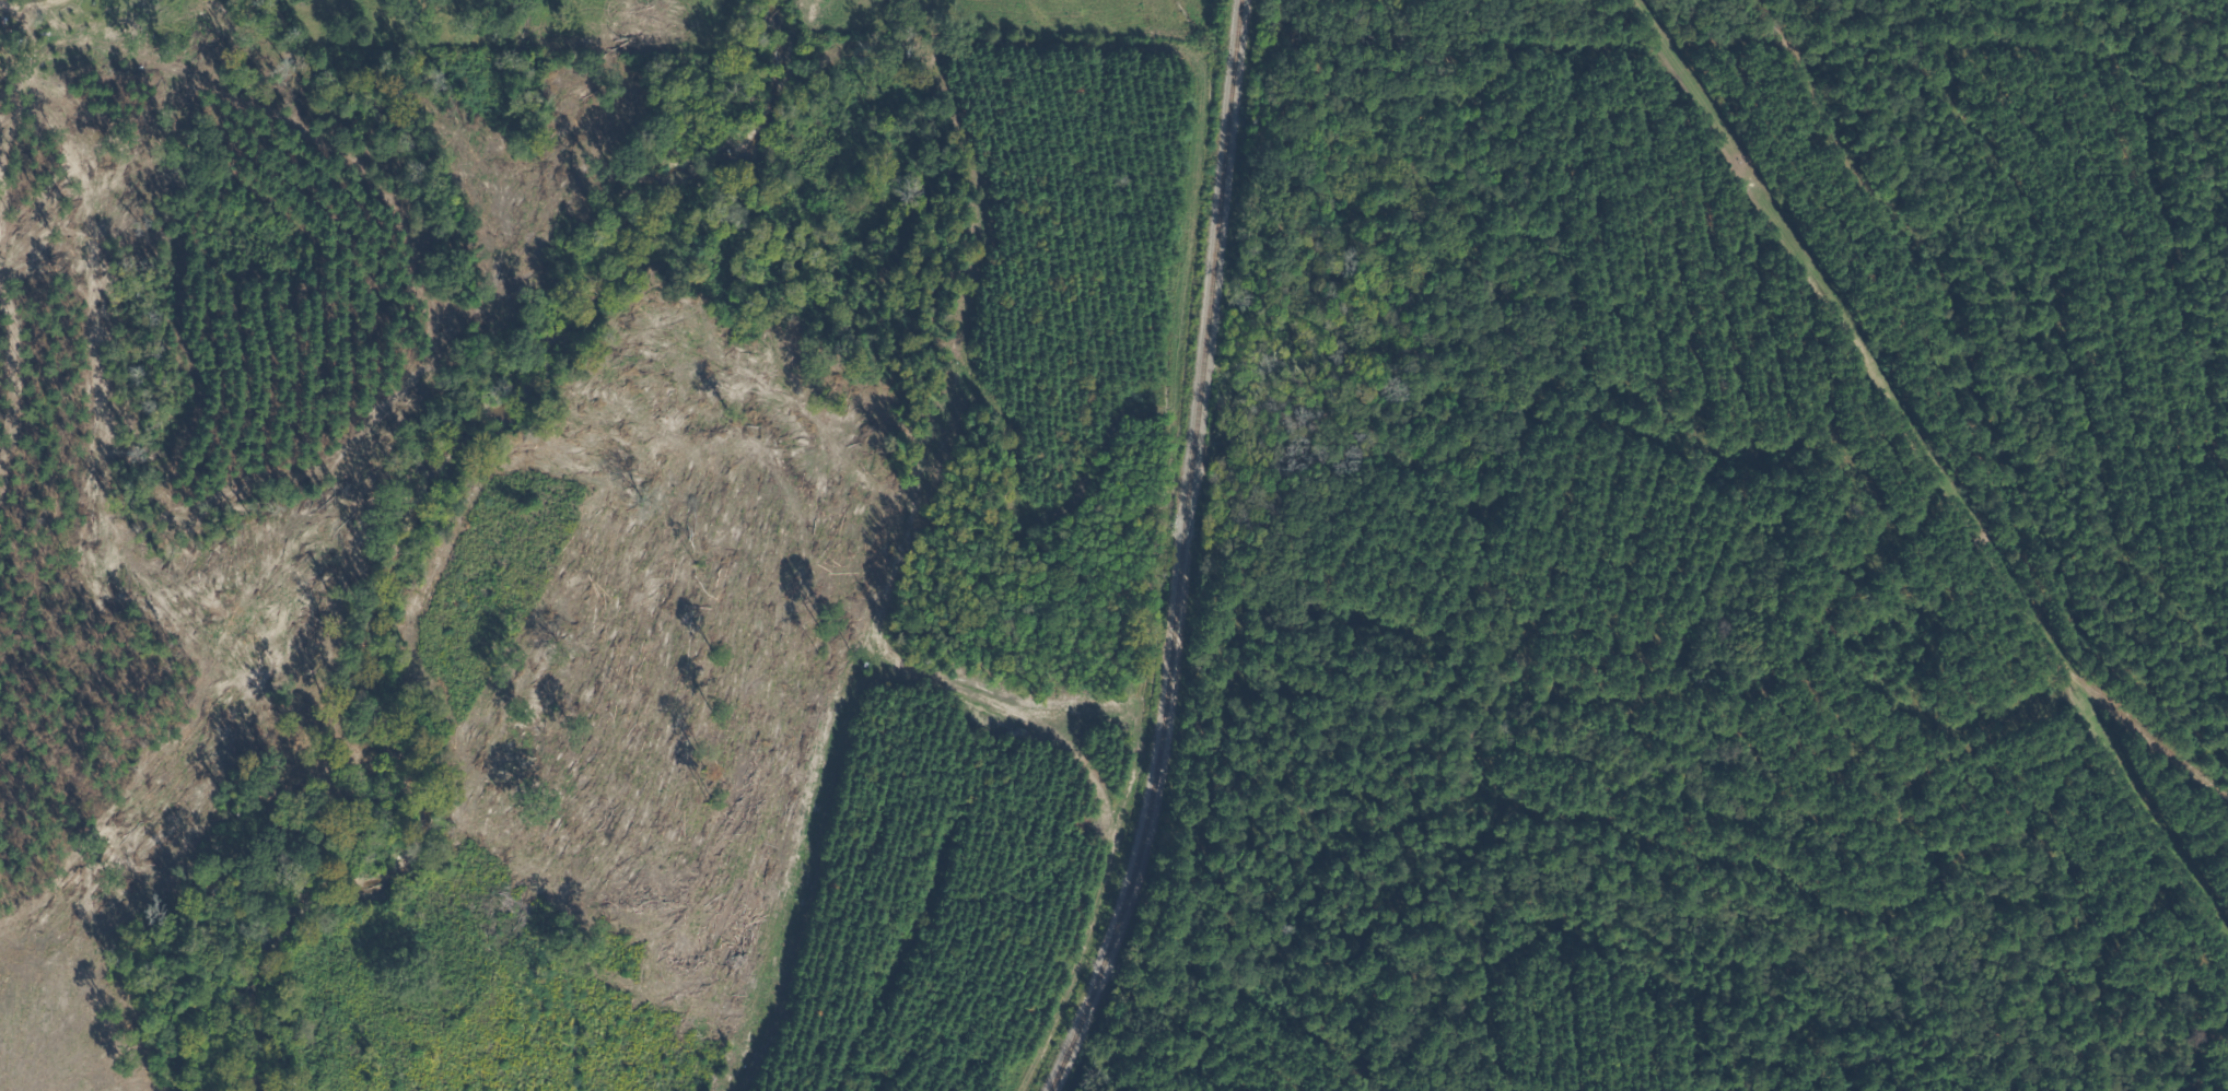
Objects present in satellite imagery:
road: (2057, 201)
railway: (1180, 553)

